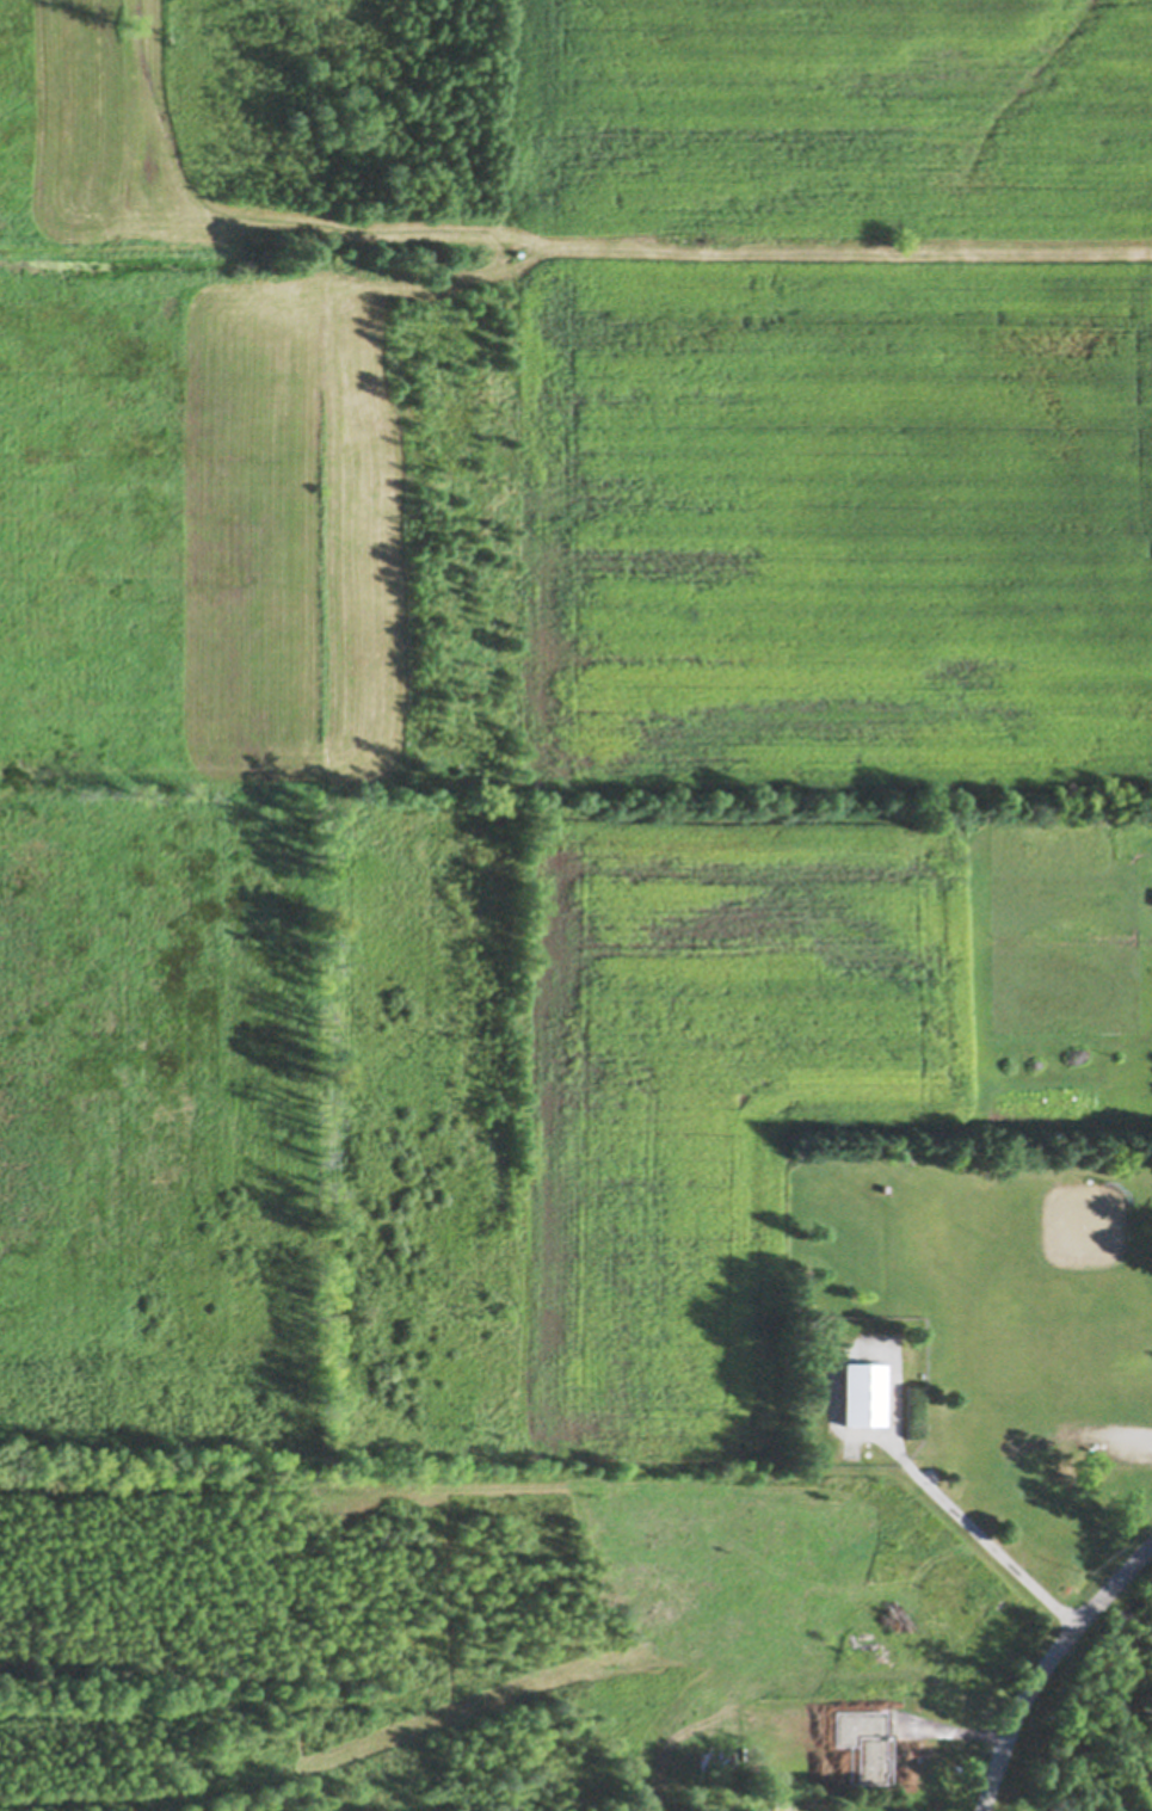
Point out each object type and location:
crop: (836, 393)
park: (1019, 1280)
park: (1000, 1324)
building: (862, 1387)
road: (981, 1534)
road: (1046, 1667)
building: (885, 1718)
building: (883, 1757)
building: (817, 1800)
building: (1092, 1809)

